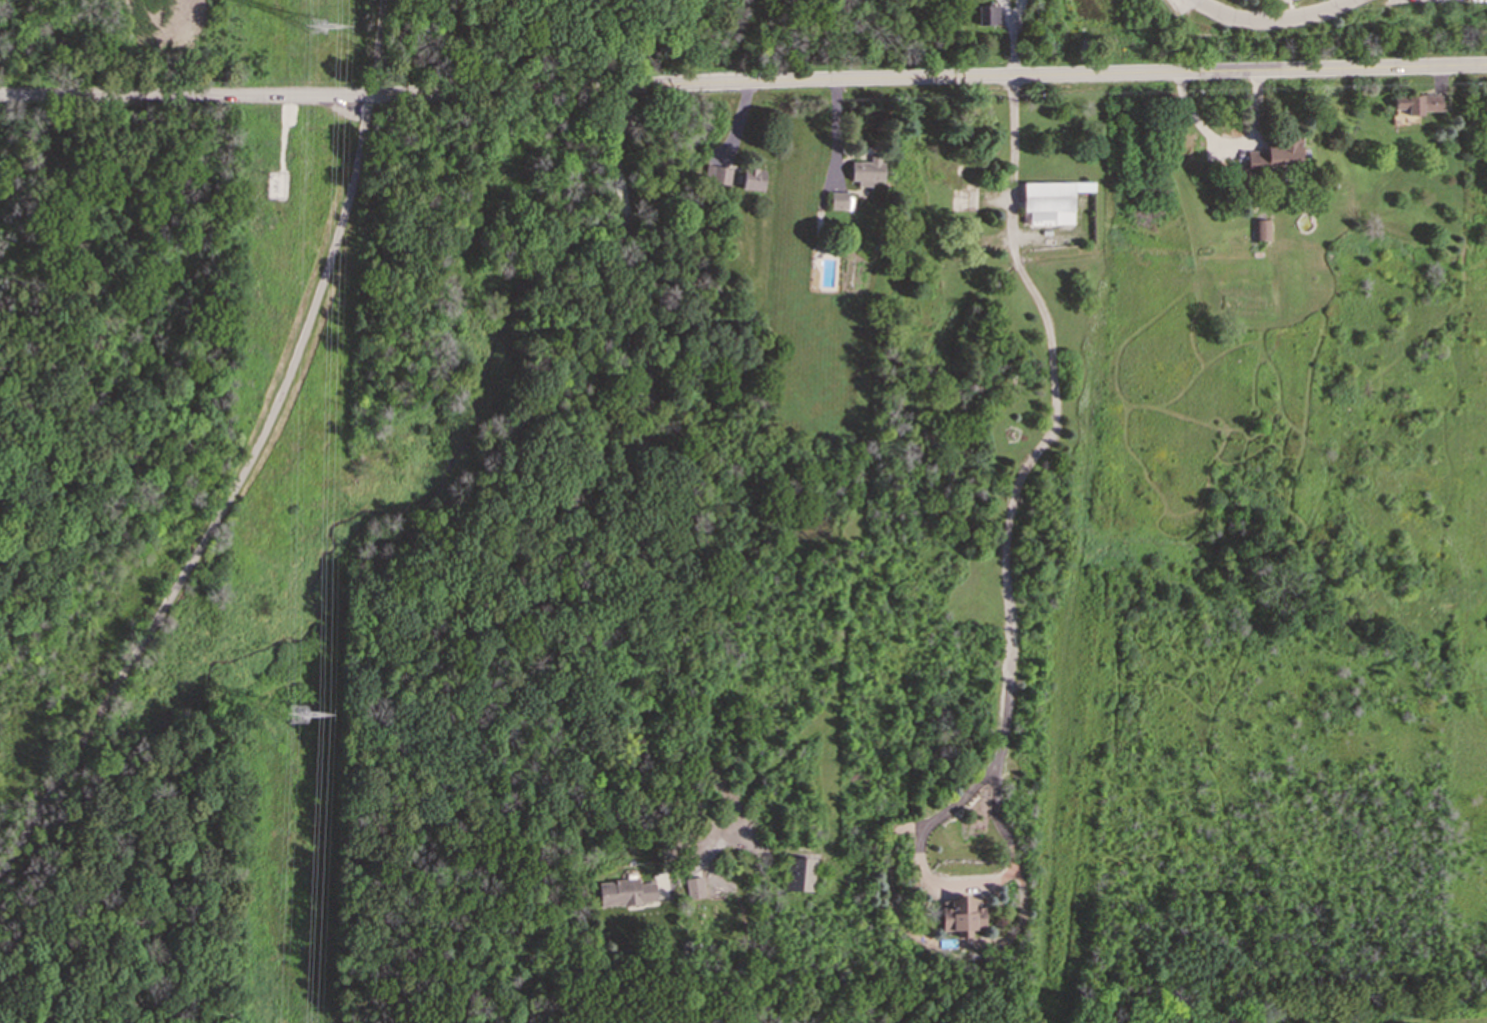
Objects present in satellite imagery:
building: (1239, 0)
building: (986, 15)
road: (1269, 18)
power tower: (318, 27)
road: (1012, 38)
road: (743, 82)
building: (1417, 103)
road: (618, 129)
road: (1227, 141)
building: (1275, 155)
building: (865, 170)
building: (716, 174)
building: (751, 179)
road: (620, 191)
building: (837, 200)
building: (1048, 202)
building: (1260, 229)
road: (1053, 427)
road: (250, 464)
road: (615, 548)
power tower: (297, 716)
building: (798, 874)
road: (945, 885)
building: (693, 887)
building: (624, 892)
building: (960, 915)
road: (932, 940)

